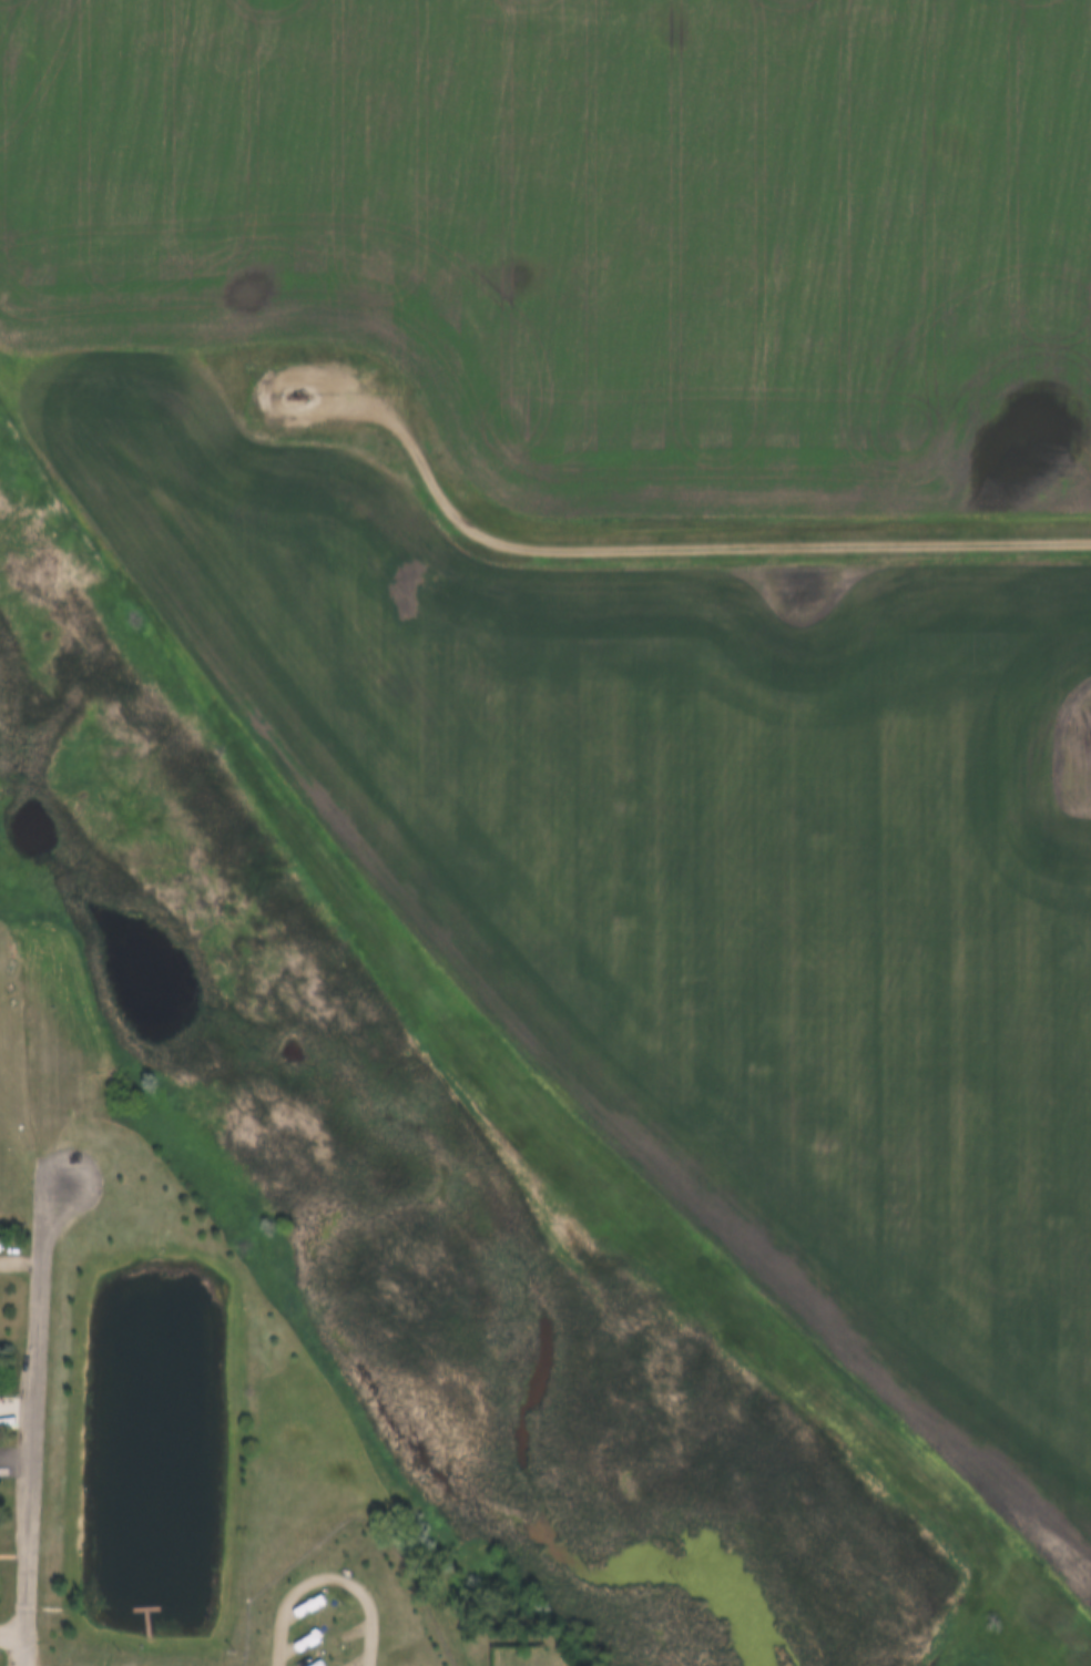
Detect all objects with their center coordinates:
road: (652, 546)
road: (17, 1152)
road: (33, 1424)
pier: (133, 1604)
building: (304, 1607)
pier: (133, 1613)
road: (11, 1632)
building: (302, 1643)
building: (126, 1663)
building: (310, 1665)

